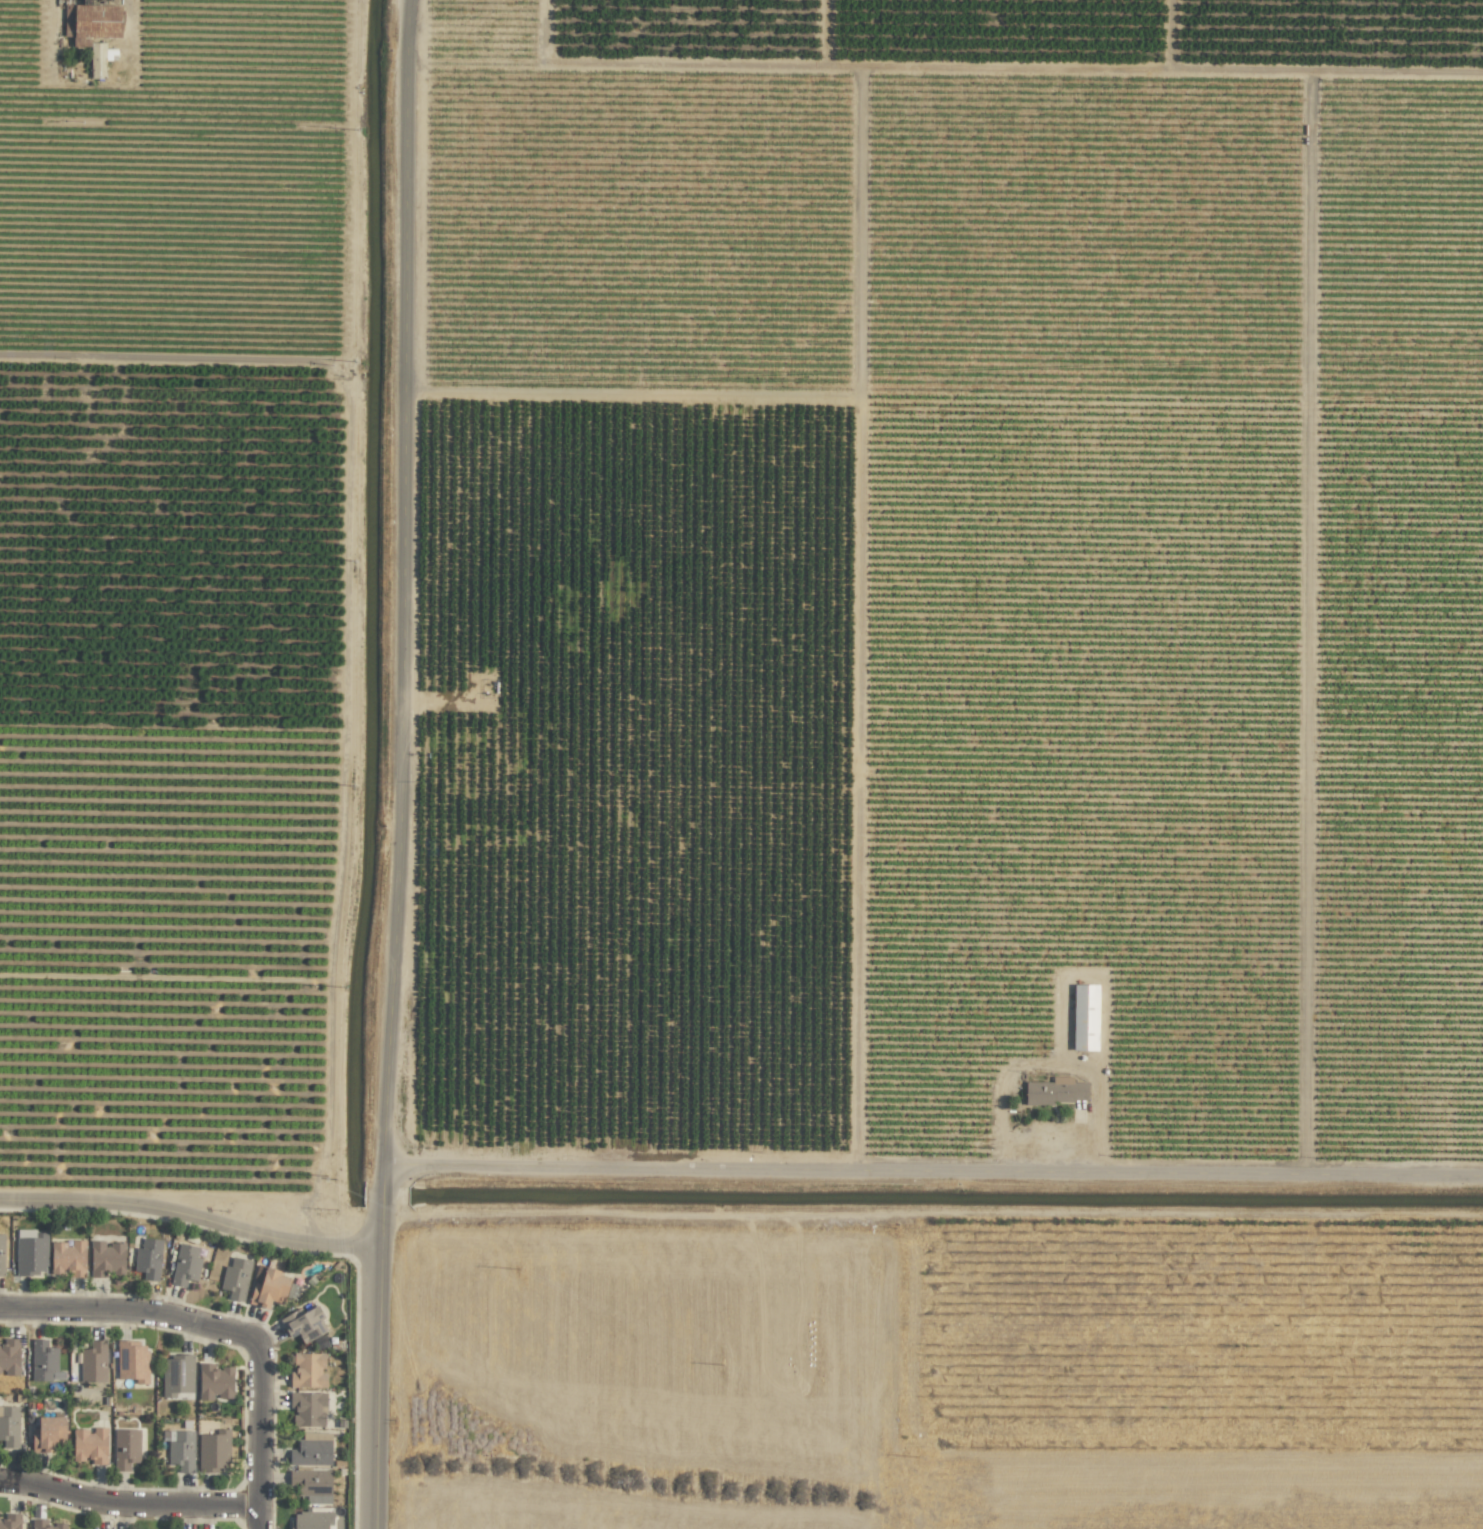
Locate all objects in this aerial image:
building: (93, 22)
building: (97, 60)
road: (391, 764)
building: (1084, 1017)
building: (1055, 1091)
road: (932, 1168)
road: (190, 1216)
building: (31, 1254)
building: (2, 1255)
building: (68, 1258)
building: (106, 1258)
building: (148, 1259)
building: (185, 1264)
building: (235, 1277)
building: (269, 1289)
road: (131, 1309)
building: (304, 1324)
building: (9, 1356)
building: (132, 1360)
building: (43, 1361)
building: (93, 1362)
building: (308, 1370)
building: (177, 1375)
building: (214, 1381)
building: (307, 1409)
road: (259, 1425)
building: (9, 1426)
building: (48, 1433)
building: (90, 1445)
building: (125, 1448)
building: (181, 1450)
building: (311, 1450)
building: (213, 1452)
building: (311, 1485)
road: (127, 1504)
road: (259, 1516)
building: (10, 1520)
building: (47, 1524)

